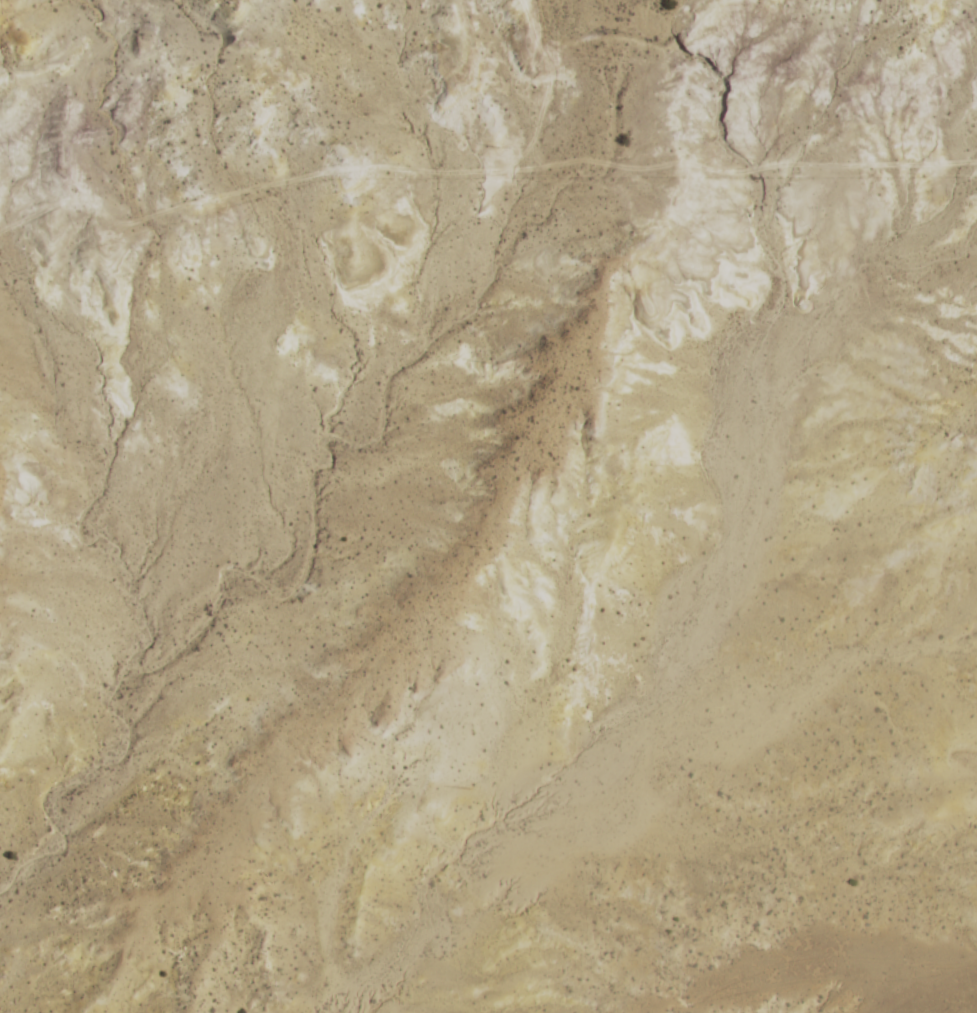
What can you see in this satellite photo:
road: (485, 840)

